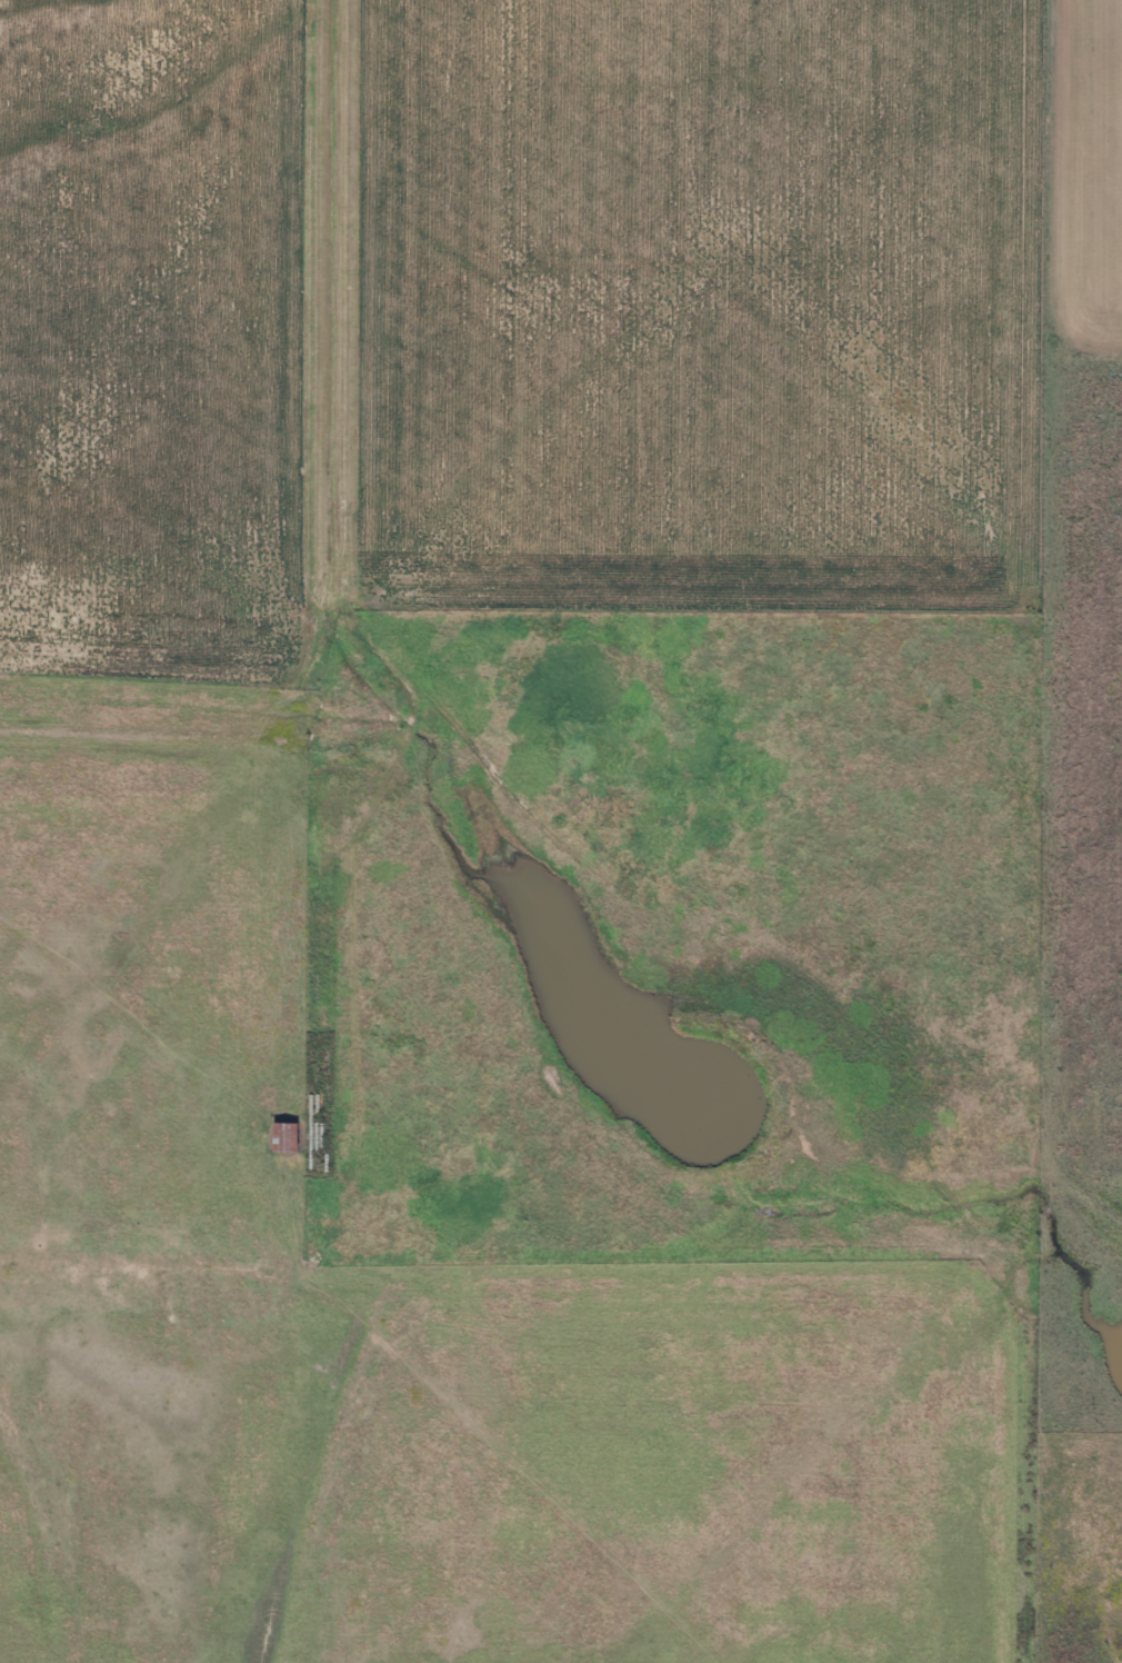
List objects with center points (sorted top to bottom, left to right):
building: (289, 1138)

